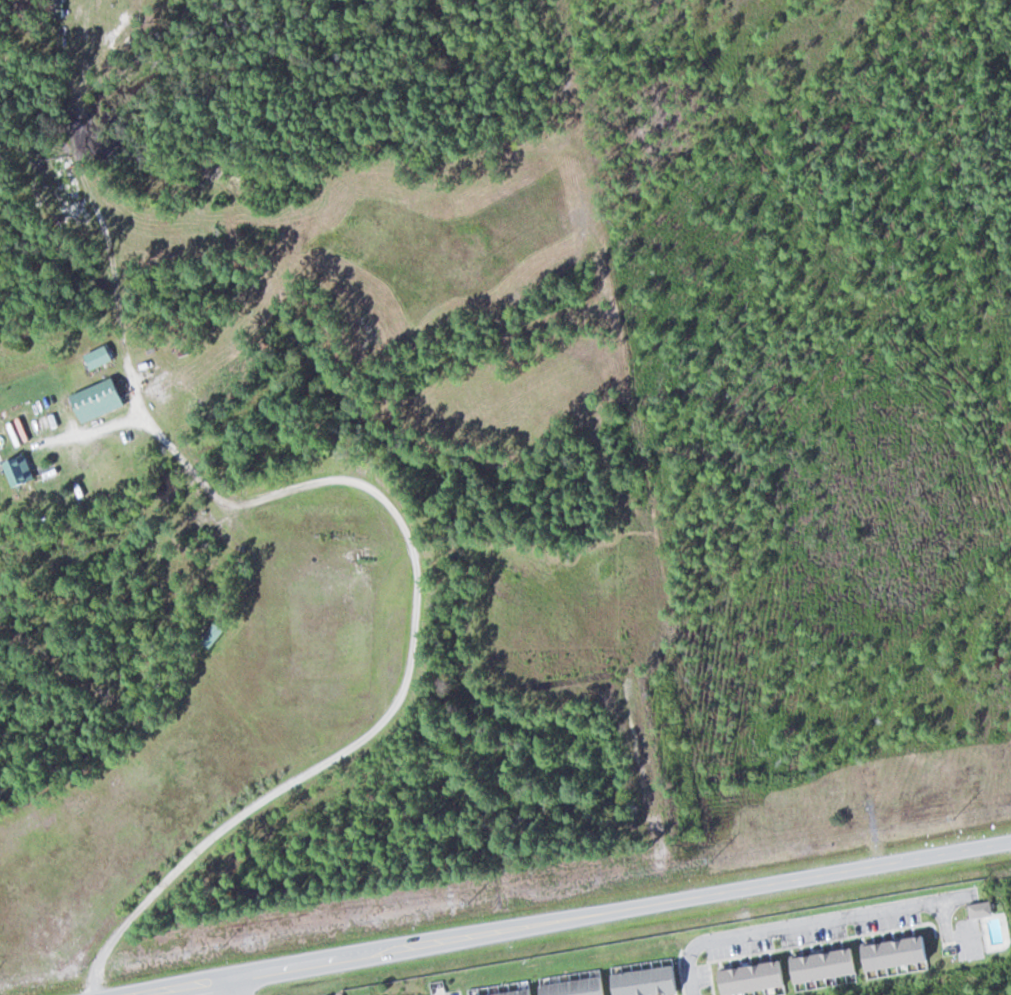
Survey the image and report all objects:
building: (103, 357)
building: (102, 399)
building: (23, 471)
building: (217, 635)
power tower: (954, 815)
power tower: (710, 858)
power tower: (467, 901)
road: (571, 918)
power tower: (222, 943)
road: (230, 986)

